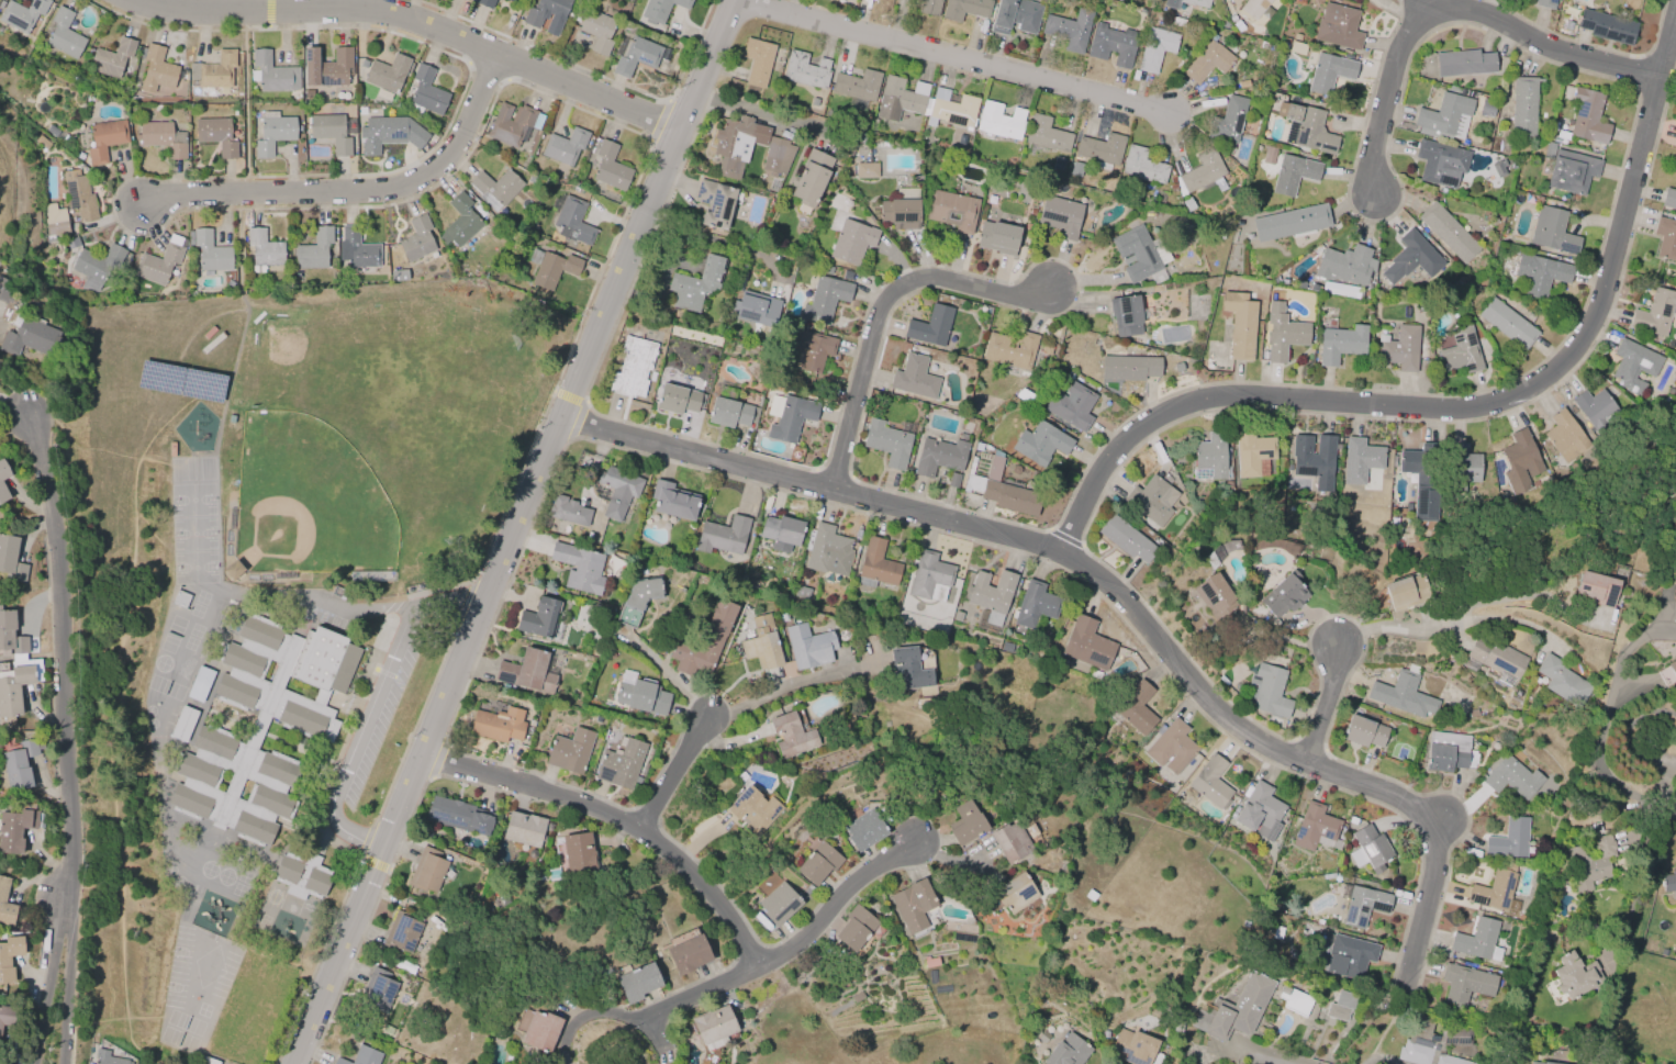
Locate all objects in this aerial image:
building: (830, 0)
building: (1154, 0)
building: (511, 1)
building: (1119, 1)
building: (1545, 3)
building: (488, 4)
building: (1185, 4)
road: (271, 5)
building: (928, 7)
building: (965, 9)
building: (661, 10)
building: (1258, 10)
building: (547, 11)
road: (1454, 13)
building: (1015, 15)
building: (24, 16)
building: (1176, 21)
road: (415, 25)
building: (1608, 26)
building: (1338, 27)
building: (1069, 30)
building: (599, 32)
building: (65, 36)
building: (1113, 45)
building: (1155, 48)
building: (1297, 48)
building: (636, 56)
road: (954, 56)
building: (757, 60)
building: (1209, 60)
building: (113, 61)
building: (1464, 63)
building: (328, 69)
building: (806, 70)
building: (157, 71)
building: (1329, 71)
building: (217, 72)
building: (273, 75)
building: (389, 75)
building: (857, 85)
building: (426, 93)
building: (900, 99)
road: (248, 104)
building: (1522, 105)
building: (951, 109)
road: (747, 111)
building: (1588, 116)
building: (1444, 117)
building: (1001, 121)
building: (1228, 121)
building: (512, 125)
building: (1306, 127)
building: (333, 131)
building: (275, 134)
building: (216, 135)
building: (391, 135)
building: (1047, 135)
building: (104, 139)
building: (163, 139)
building: (43, 143)
building: (733, 145)
building: (566, 148)
building: (1100, 150)
building: (1269, 155)
building: (778, 158)
building: (1441, 163)
building: (1141, 167)
building: (610, 168)
building: (1498, 168)
building: (867, 170)
building: (1202, 170)
building: (1572, 171)
building: (1293, 173)
building: (812, 178)
building: (498, 189)
road: (355, 194)
building: (80, 198)
building: (1668, 199)
building: (716, 205)
building: (952, 212)
building: (898, 213)
building: (1061, 217)
building: (463, 221)
building: (1290, 221)
building: (55, 222)
building: (573, 224)
building: (1553, 229)
building: (1448, 232)
building: (1666, 238)
building: (998, 239)
building: (418, 240)
building: (71, 242)
road: (239, 242)
building: (852, 243)
building: (265, 250)
building: (357, 250)
building: (315, 251)
building: (211, 253)
building: (1137, 255)
building: (1410, 258)
building: (161, 264)
building: (1345, 265)
building: (97, 268)
building: (551, 269)
building: (1540, 273)
building: (399, 275)
building: (696, 287)
building: (5, 290)
building: (825, 300)
building: (758, 310)
road: (885, 313)
building: (1654, 313)
building: (1127, 317)
building: (1507, 323)
building: (1240, 325)
building: (931, 328)
building: (1284, 333)
building: (27, 338)
building: (1340, 344)
building: (1400, 348)
building: (811, 350)
building: (1461, 350)
building: (1012, 351)
building: (1633, 365)
building: (634, 369)
building: (1131, 370)
building: (915, 379)
building: (679, 401)
road: (1461, 406)
building: (1073, 407)
road: (12, 408)
building: (1597, 410)
building: (730, 414)
building: (789, 418)
building: (1565, 436)
building: (889, 445)
building: (1044, 445)
building: (1253, 453)
building: (940, 458)
building: (1210, 458)
building: (1314, 458)
building: (1361, 460)
building: (1520, 462)
building: (1462, 469)
building: (2, 472)
building: (976, 472)
building: (1421, 479)
building: (618, 490)
building: (1004, 493)
building: (2, 496)
building: (673, 500)
building: (1150, 500)
building: (568, 512)
building: (781, 533)
road: (519, 534)
building: (722, 535)
building: (1127, 540)
building: (1276, 546)
building: (828, 551)
building: (10, 561)
building: (876, 564)
building: (579, 568)
building: (232, 570)
building: (930, 576)
building: (1595, 590)
building: (1405, 592)
building: (801, 593)
building: (1284, 594)
building: (991, 595)
road: (1120, 595)
building: (1215, 596)
road: (1522, 596)
building: (179, 598)
building: (638, 600)
building: (1036, 605)
road: (452, 606)
road: (350, 608)
building: (958, 616)
building: (781, 617)
building: (538, 618)
road: (1450, 628)
building: (10, 636)
building: (715, 636)
building: (762, 643)
building: (1087, 643)
building: (808, 646)
building: (1006, 648)
building: (1495, 659)
road: (63, 663)
building: (1673, 668)
building: (908, 669)
building: (527, 671)
road: (669, 674)
building: (1095, 674)
building: (1563, 681)
building: (199, 684)
building: (16, 686)
road: (780, 687)
building: (1266, 691)
building: (1404, 694)
building: (643, 696)
building: (1136, 708)
road: (1325, 708)
building: (182, 724)
building: (498, 725)
building: (261, 726)
building: (1363, 731)
building: (792, 735)
road: (360, 741)
building: (1172, 747)
building: (570, 751)
building: (1449, 752)
building: (621, 764)
building: (16, 765)
road: (671, 773)
building: (1511, 777)
building: (1210, 781)
road: (1672, 805)
building: (753, 810)
building: (1260, 811)
building: (458, 815)
road: (622, 819)
building: (964, 824)
building: (1314, 827)
building: (523, 829)
building: (863, 829)
building: (14, 831)
building: (1509, 839)
building: (1010, 842)
building: (1368, 849)
building: (578, 852)
building: (1590, 861)
building: (819, 863)
building: (427, 870)
building: (301, 875)
building: (1668, 881)
building: (1495, 888)
building: (2, 893)
building: (1014, 894)
building: (1090, 895)
building: (776, 899)
building: (914, 906)
building: (1363, 906)
building: (761, 920)
building: (854, 928)
building: (401, 933)
building: (1542, 937)
building: (1477, 941)
building: (688, 954)
building: (9, 956)
building: (1350, 956)
building: (930, 962)
building: (400, 964)
road: (750, 974)
building: (1574, 975)
building: (637, 983)
building: (1465, 984)
road: (47, 987)
road: (67, 989)
building: (378, 989)
building: (1297, 1003)
building: (1341, 1006)
building: (1236, 1009)
building: (7, 1016)
building: (713, 1026)
building: (537, 1029)
building: (1431, 1043)
building: (1131, 1046)
building: (1066, 1051)
road: (1274, 1054)
building: (361, 1056)
building: (108, 1059)
road: (1372, 1060)
building: (209, 1061)
building: (592, 1063)
building: (1543, 1063)

